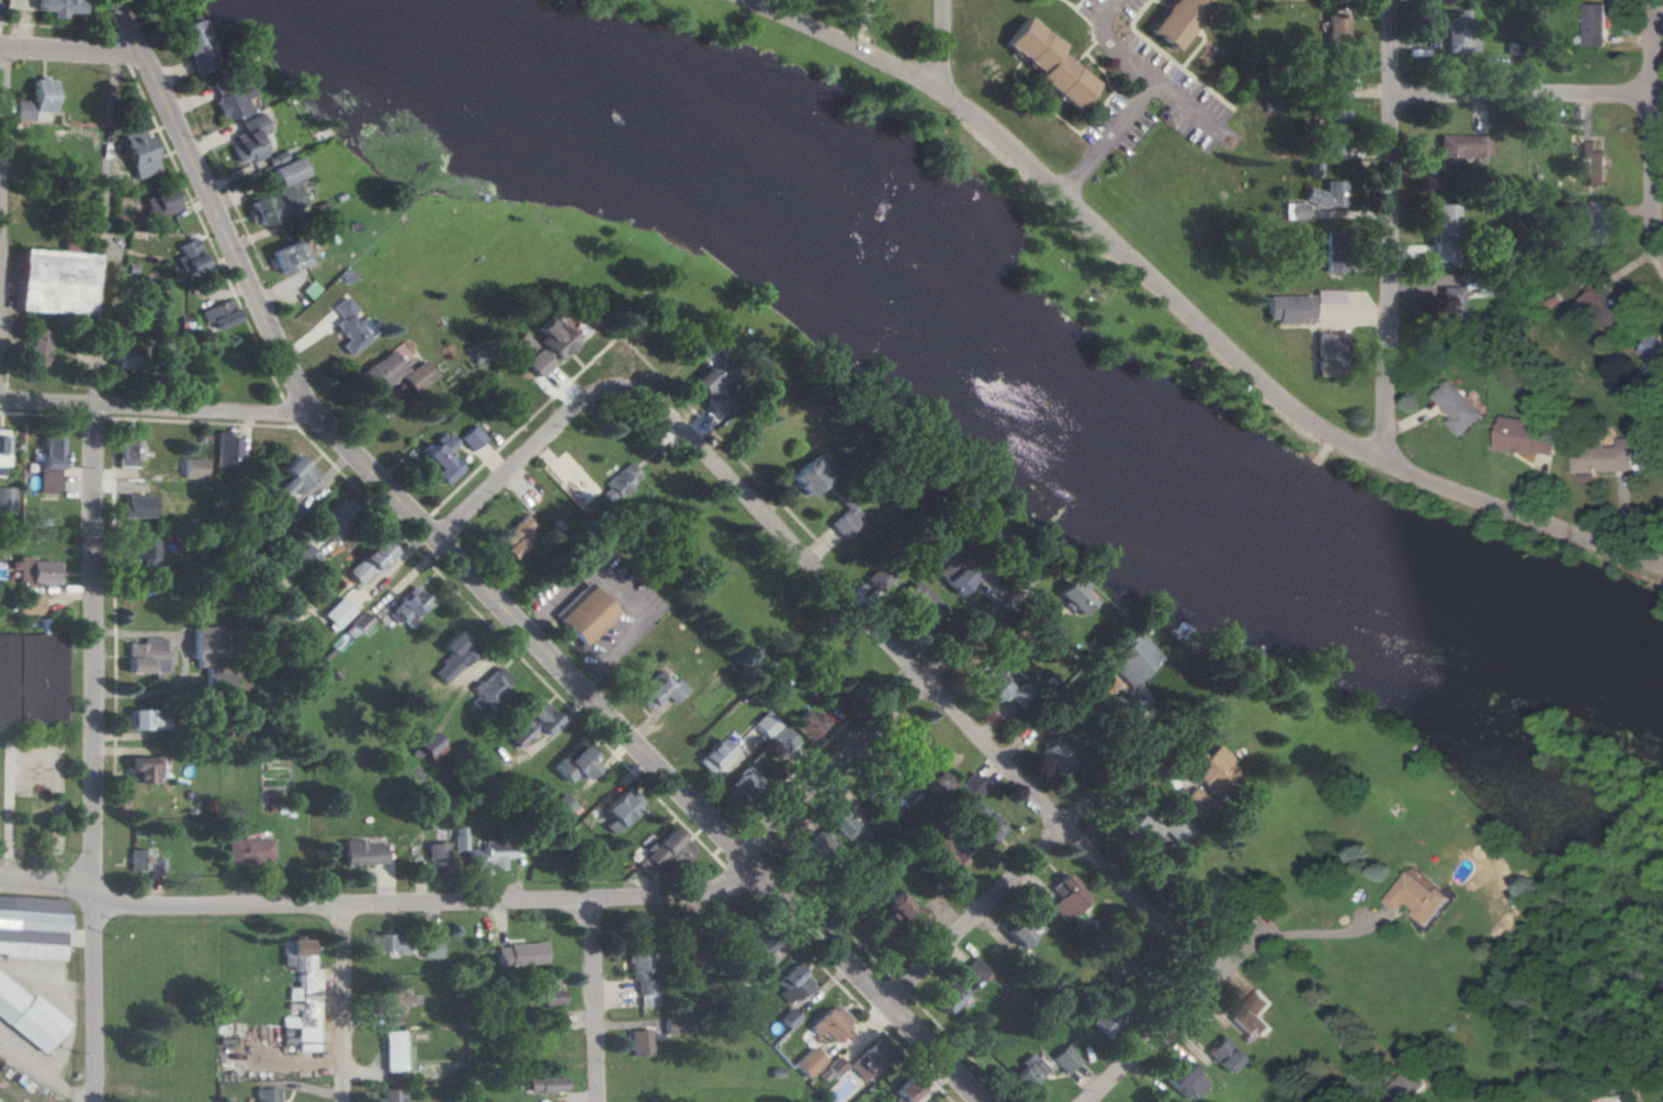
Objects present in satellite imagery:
building: (57, 7)
building: (1175, 21)
road: (1660, 22)
building: (1594, 24)
building: (1335, 31)
building: (1458, 32)
building: (195, 47)
road: (944, 47)
road: (71, 54)
building: (1047, 64)
building: (1335, 76)
road: (1526, 98)
building: (36, 99)
building: (228, 102)
road: (1145, 102)
road: (1180, 106)
road: (1, 121)
road: (1658, 123)
building: (1332, 130)
building: (246, 138)
building: (1458, 151)
building: (137, 154)
building: (1592, 163)
road: (1054, 192)
building: (278, 193)
building: (1324, 194)
building: (163, 202)
building: (1292, 211)
building: (1592, 223)
road: (101, 232)
park: (997, 234)
road: (1392, 234)
building: (1444, 236)
building: (1332, 251)
building: (189, 255)
building: (287, 257)
building: (53, 282)
building: (1327, 295)
building: (1449, 307)
building: (1604, 307)
building: (1287, 308)
building: (219, 315)
building: (348, 326)
building: (553, 338)
building: (34, 346)
building: (529, 354)
building: (1326, 354)
building: (1653, 354)
building: (124, 356)
building: (167, 360)
building: (380, 372)
building: (416, 376)
building: (710, 379)
river: (1003, 384)
building: (1459, 407)
road: (157, 411)
building: (1528, 435)
building: (471, 438)
building: (3, 450)
building: (127, 450)
building: (227, 450)
road: (1322, 453)
building: (1606, 456)
building: (438, 457)
building: (48, 464)
road: (532, 464)
building: (194, 468)
building: (808, 474)
building: (295, 476)
building: (622, 479)
building: (7, 500)
building: (137, 505)
road: (1495, 508)
building: (335, 518)
building: (844, 519)
building: (983, 534)
building: (513, 536)
building: (306, 554)
building: (148, 556)
building: (369, 563)
building: (37, 571)
building: (953, 576)
building: (875, 579)
road: (486, 592)
building: (1072, 594)
road: (615, 598)
road: (556, 602)
building: (917, 603)
building: (29, 604)
building: (408, 607)
building: (337, 613)
building: (585, 614)
building: (359, 623)
building: (1050, 638)
building: (147, 656)
building: (453, 656)
building: (211, 657)
road: (611, 657)
building: (1130, 659)
building: (31, 678)
road: (919, 682)
building: (491, 685)
building: (992, 685)
building: (661, 690)
building: (1020, 695)
building: (144, 720)
road: (891, 720)
building: (534, 722)
building: (808, 724)
building: (767, 725)
building: (917, 745)
building: (430, 747)
building: (1057, 754)
road: (92, 756)
building: (714, 756)
building: (576, 762)
building: (1212, 768)
building: (145, 769)
building: (746, 783)
building: (940, 784)
building: (972, 785)
building: (879, 795)
building: (1197, 804)
building: (562, 806)
building: (620, 808)
building: (845, 823)
building: (985, 825)
building: (1155, 828)
building: (460, 838)
building: (817, 847)
building: (249, 850)
building: (665, 851)
building: (363, 853)
building: (494, 853)
building: (942, 856)
building: (437, 857)
building: (138, 861)
building: (158, 867)
road: (1027, 874)
building: (1066, 897)
building: (1419, 898)
road: (377, 909)
building: (904, 912)
building: (32, 927)
building: (1022, 930)
building: (71, 938)
road: (1304, 938)
building: (392, 943)
building: (756, 946)
building: (430, 948)
building: (520, 954)
building: (974, 970)
building: (642, 972)
building: (791, 984)
building: (547, 990)
building: (304, 991)
building: (949, 996)
building: (394, 1000)
road: (599, 1002)
road: (347, 1006)
building: (27, 1015)
building: (1251, 1015)
building: (788, 1018)
building: (830, 1023)
building: (672, 1025)
building: (638, 1043)
road: (1166, 1047)
building: (396, 1052)
building: (1223, 1055)
building: (1064, 1059)
building: (808, 1061)
building: (867, 1061)
building: (835, 1067)
building: (1027, 1072)
building: (1184, 1080)
building: (545, 1084)
building: (908, 1088)
building: (267, 1094)
building: (392, 1094)

